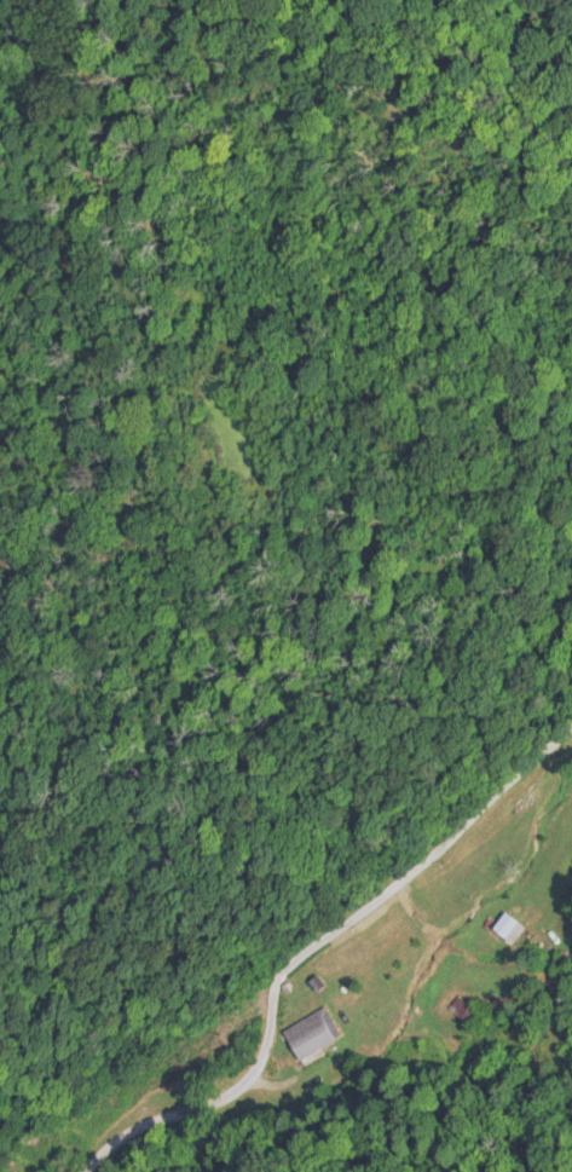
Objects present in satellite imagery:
building: (509, 928)
road: (320, 978)
building: (467, 1011)
building: (312, 1033)

